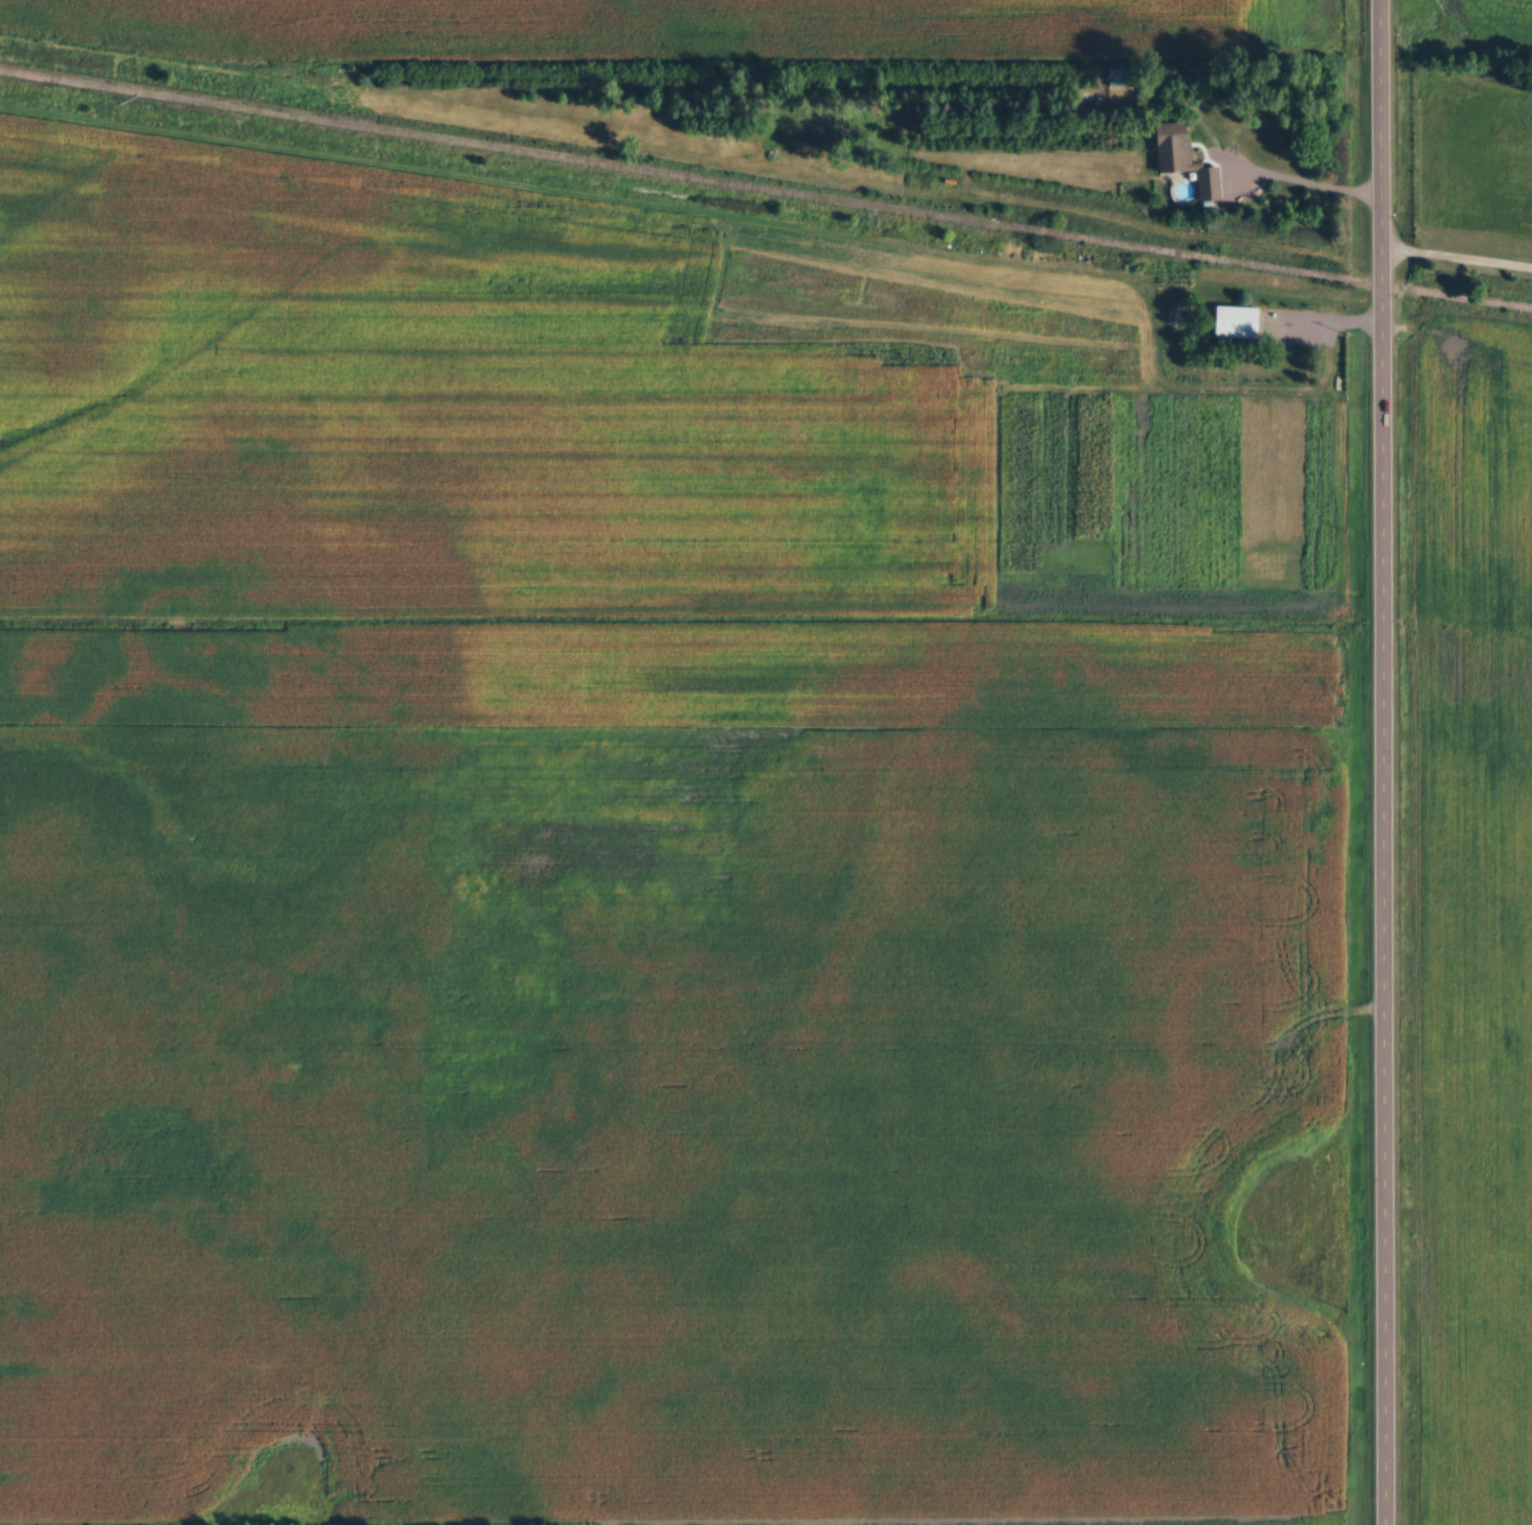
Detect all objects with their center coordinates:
building: (1184, 162)
road: (1305, 183)
railway: (764, 204)
road: (1456, 259)
building: (1236, 324)
road: (1377, 762)

